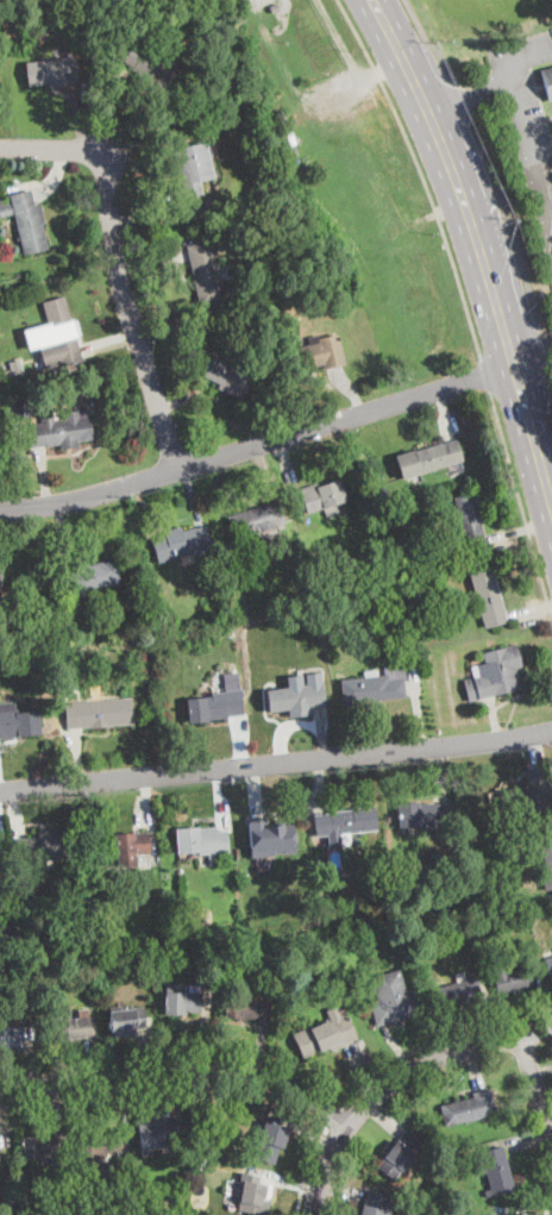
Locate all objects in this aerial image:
road: (429, 42)
building: (151, 65)
building: (52, 73)
building: (547, 82)
road: (470, 94)
road: (465, 99)
parking lot: (528, 119)
road: (522, 121)
building: (287, 126)
building: (282, 142)
building: (249, 154)
building: (194, 167)
road: (420, 173)
building: (250, 211)
building: (27, 220)
road: (508, 225)
road: (477, 244)
road: (115, 261)
building: (205, 273)
road: (547, 331)
building: (59, 336)
road: (547, 345)
building: (321, 351)
road: (533, 361)
building: (17, 367)
road: (484, 374)
building: (227, 376)
road: (551, 390)
building: (21, 411)
building: (59, 431)
road: (258, 445)
building: (428, 458)
building: (325, 496)
road: (521, 503)
building: (256, 520)
building: (470, 522)
building: (401, 524)
building: (182, 544)
building: (401, 558)
building: (0, 569)
building: (88, 576)
building: (331, 588)
building: (488, 596)
building: (165, 622)
building: (478, 622)
building: (124, 624)
building: (422, 656)
building: (495, 674)
building: (375, 685)
building: (295, 697)
building: (217, 702)
building: (100, 713)
building: (19, 724)
road: (276, 763)
building: (520, 776)
building: (539, 795)
building: (424, 815)
building: (502, 819)
building: (345, 823)
building: (264, 828)
building: (202, 841)
building: (131, 847)
building: (43, 848)
building: (2, 864)
building: (547, 865)
building: (115, 896)
building: (157, 897)
building: (453, 923)
building: (456, 932)
building: (225, 934)
building: (332, 947)
building: (164, 959)
building: (548, 967)
building: (510, 978)
building: (458, 994)
building: (394, 998)
building: (182, 1002)
building: (245, 1008)
building: (126, 1020)
building: (69, 1028)
building: (325, 1035)
building: (11, 1038)
road: (439, 1042)
road: (181, 1071)
road: (397, 1079)
road: (169, 1085)
road: (537, 1091)
building: (469, 1108)
road: (337, 1114)
building: (157, 1133)
building: (269, 1142)
building: (40, 1147)
building: (98, 1150)
building: (400, 1154)
road: (309, 1166)
building: (494, 1170)
building: (251, 1197)
building: (377, 1204)
building: (145, 1207)
building: (496, 1214)

